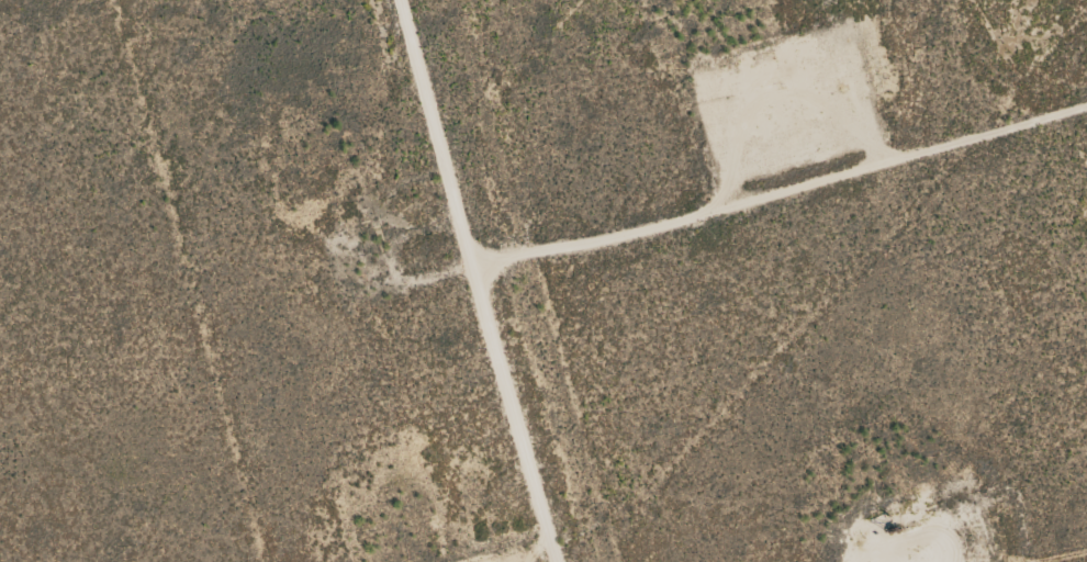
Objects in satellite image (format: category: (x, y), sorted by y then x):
road: (780, 188)
road: (475, 281)

